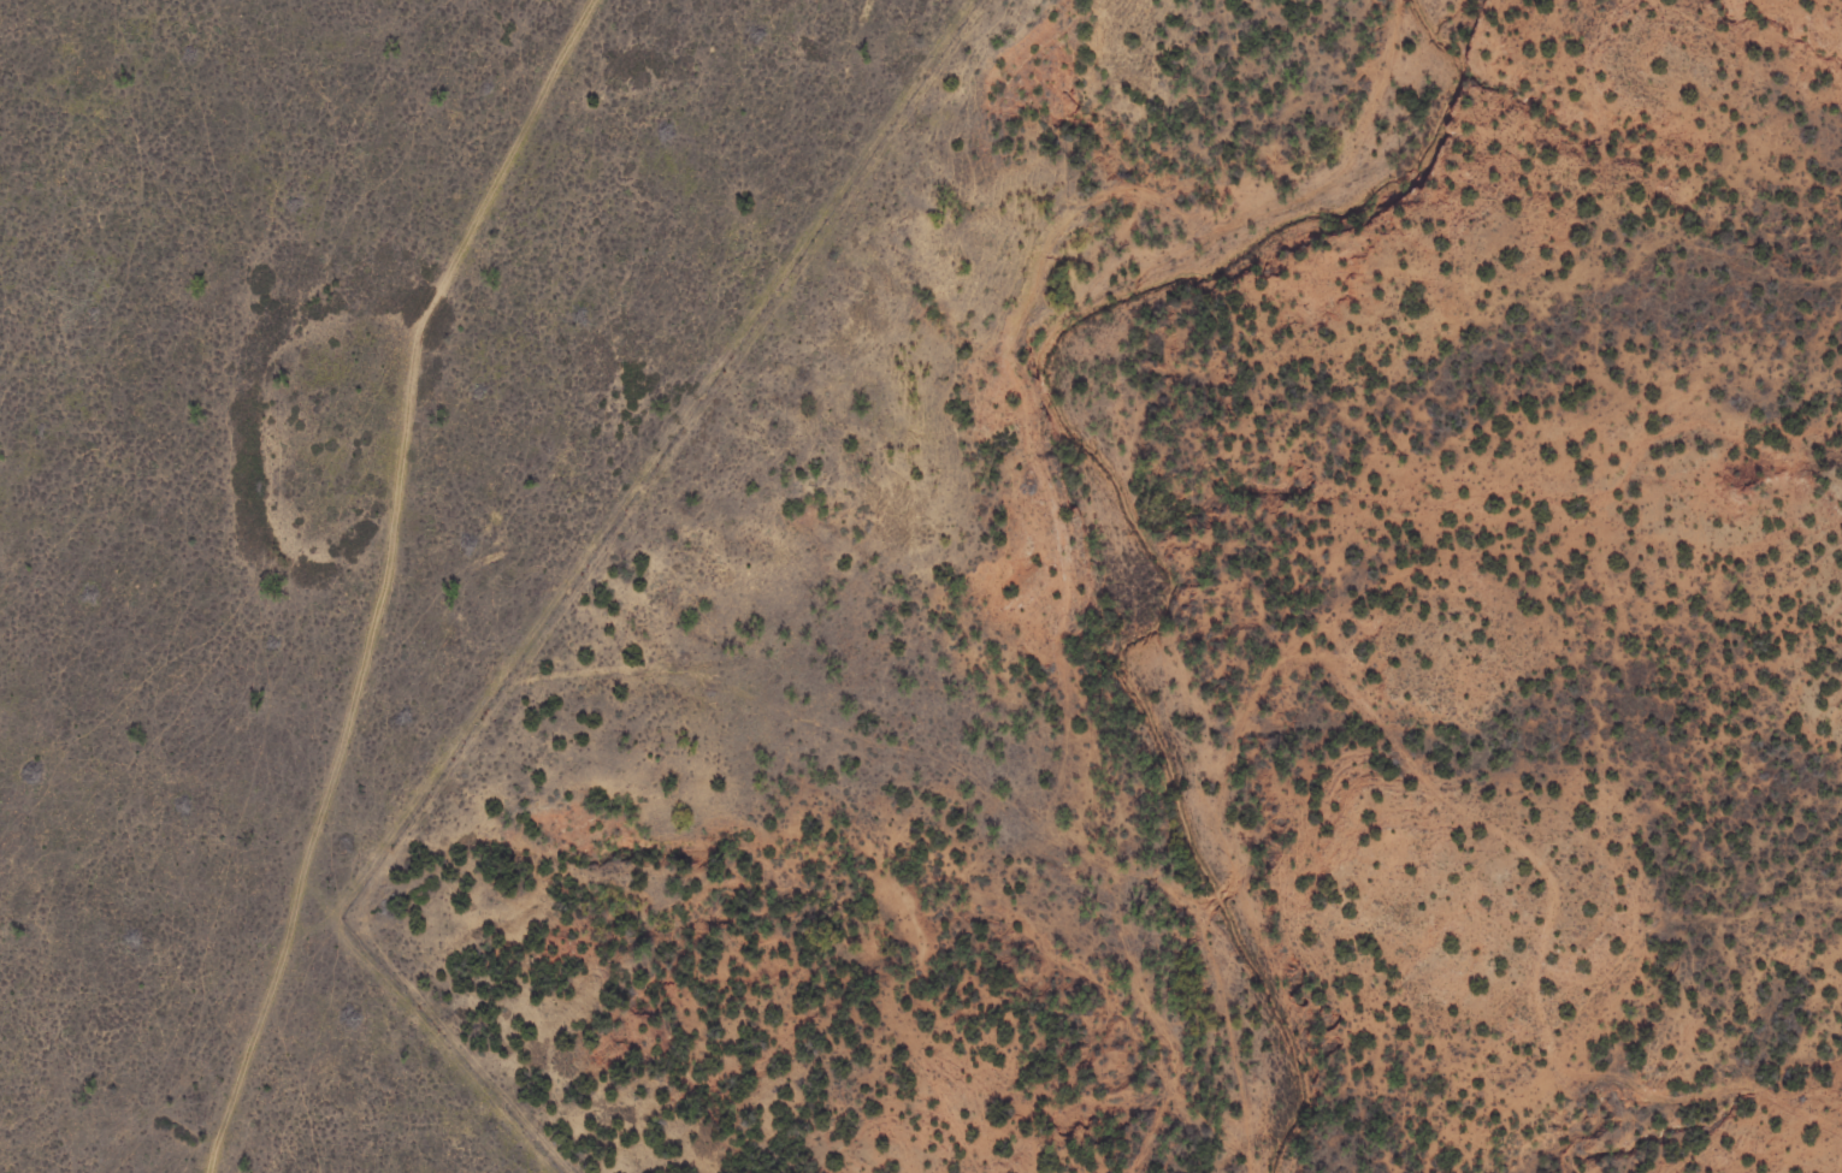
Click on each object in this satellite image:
road: (343, 576)

